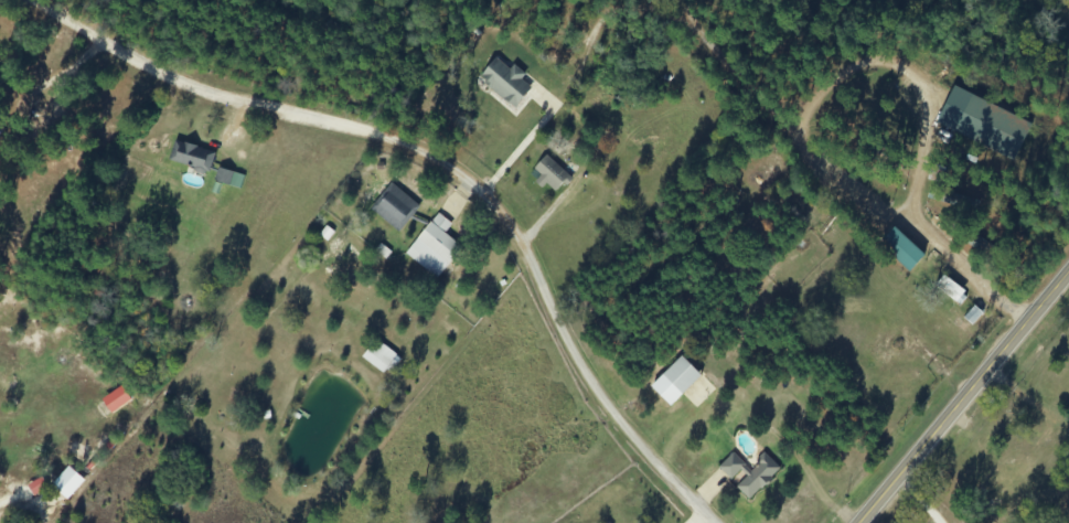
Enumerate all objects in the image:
building: (505, 84)
building: (984, 124)
building: (192, 159)
building: (553, 175)
building: (229, 180)
road: (408, 182)
building: (395, 209)
building: (434, 248)
building: (901, 252)
building: (381, 359)
building: (675, 382)
road: (964, 397)
building: (116, 401)
building: (749, 474)
building: (67, 484)
building: (38, 488)

